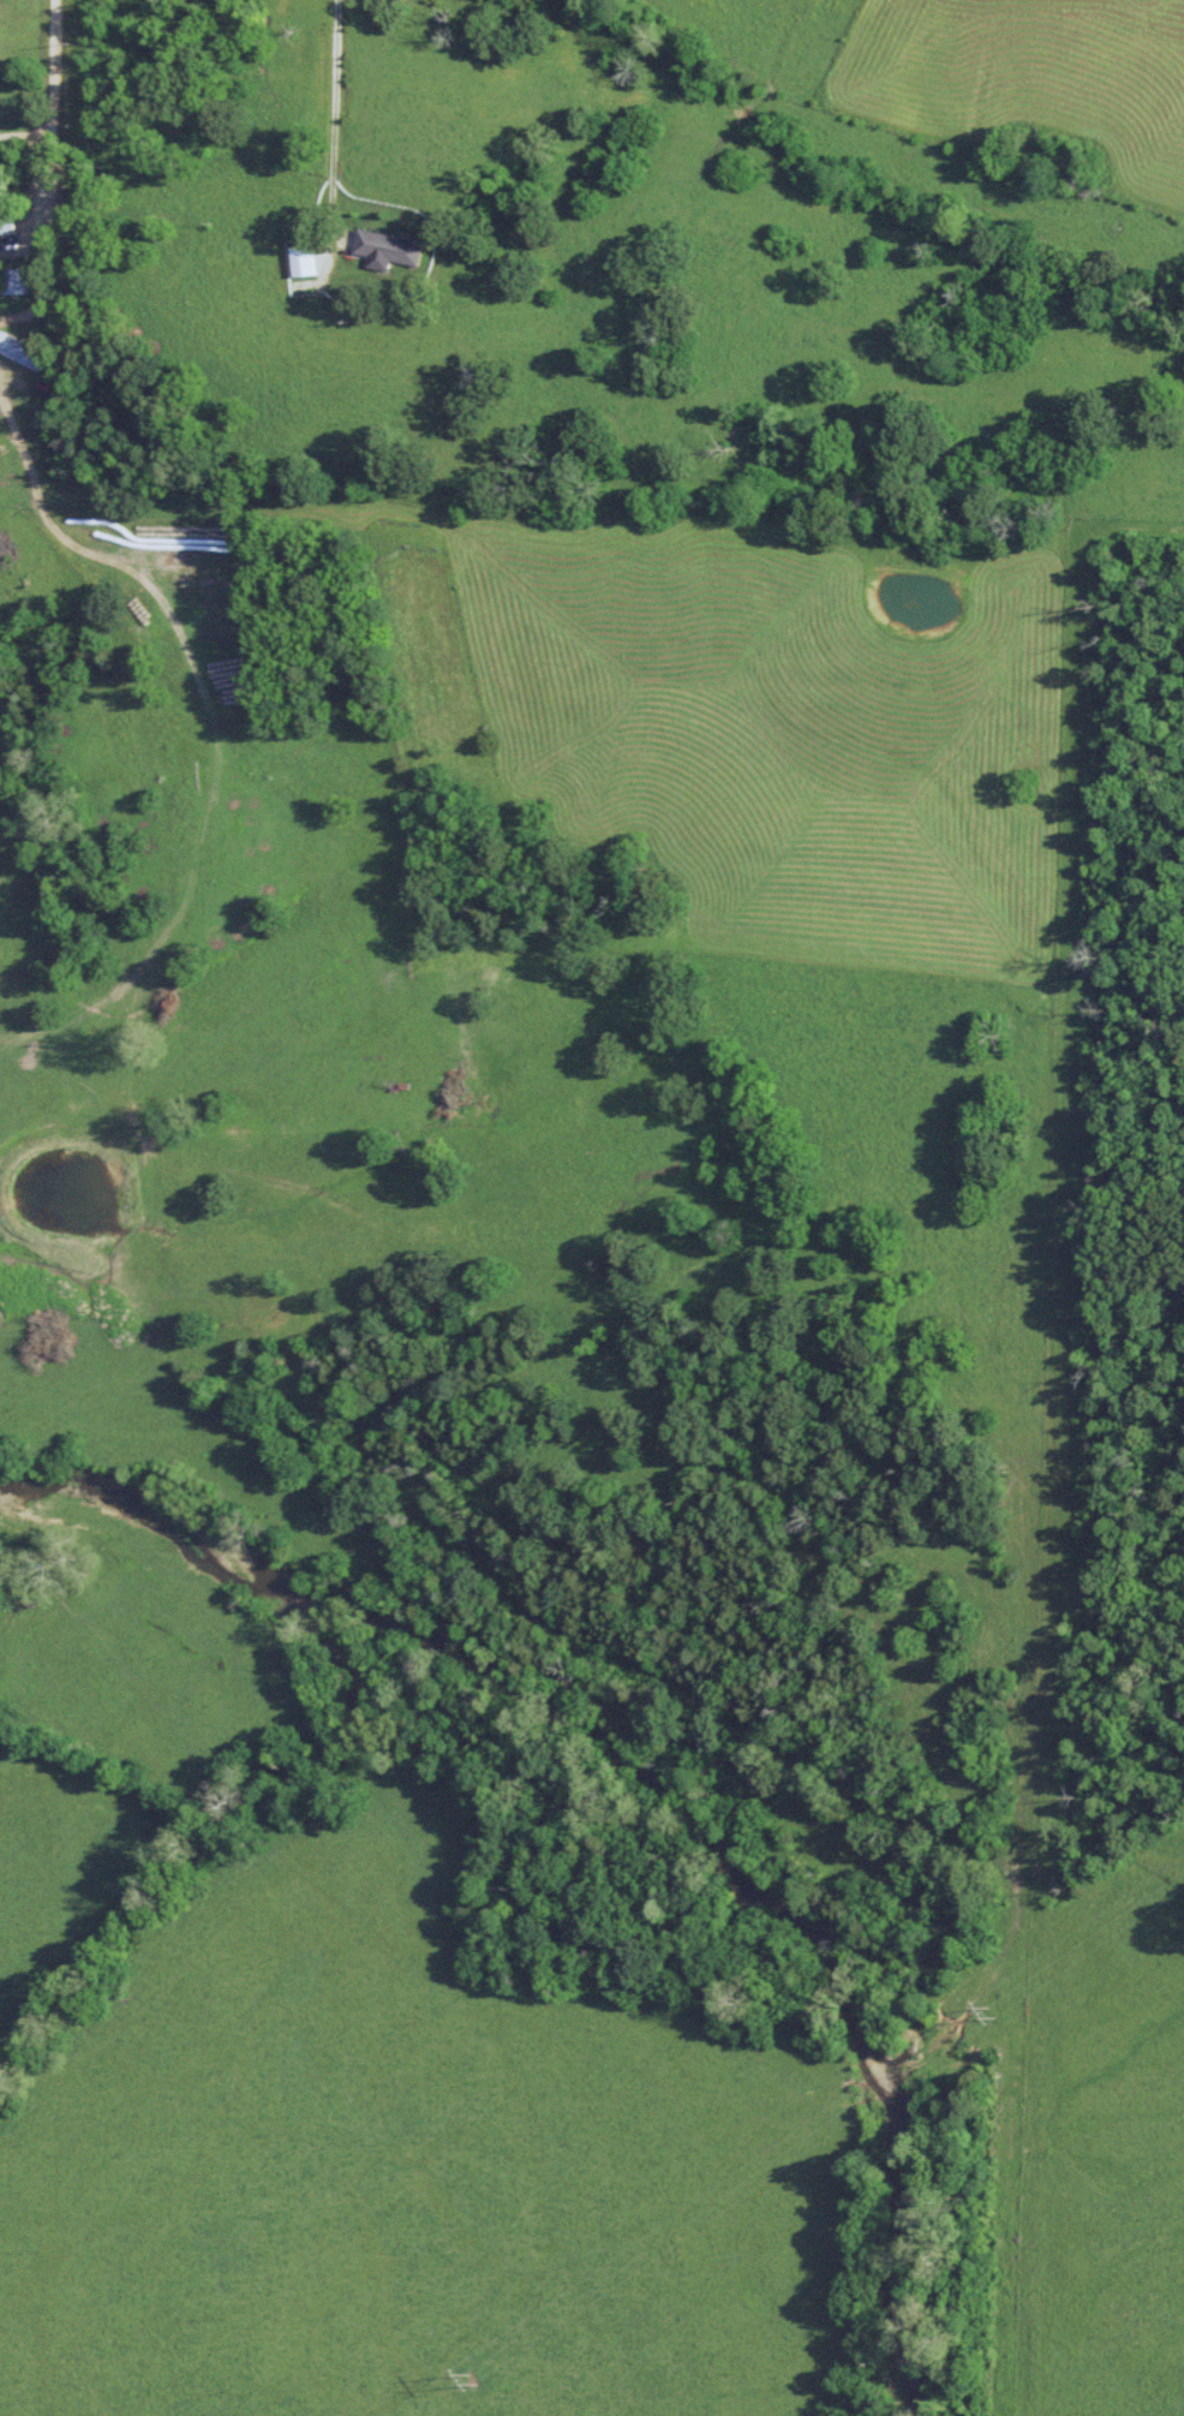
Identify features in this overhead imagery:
road: (315, 91)
road: (32, 96)
building: (389, 246)
building: (14, 280)
building: (22, 351)

